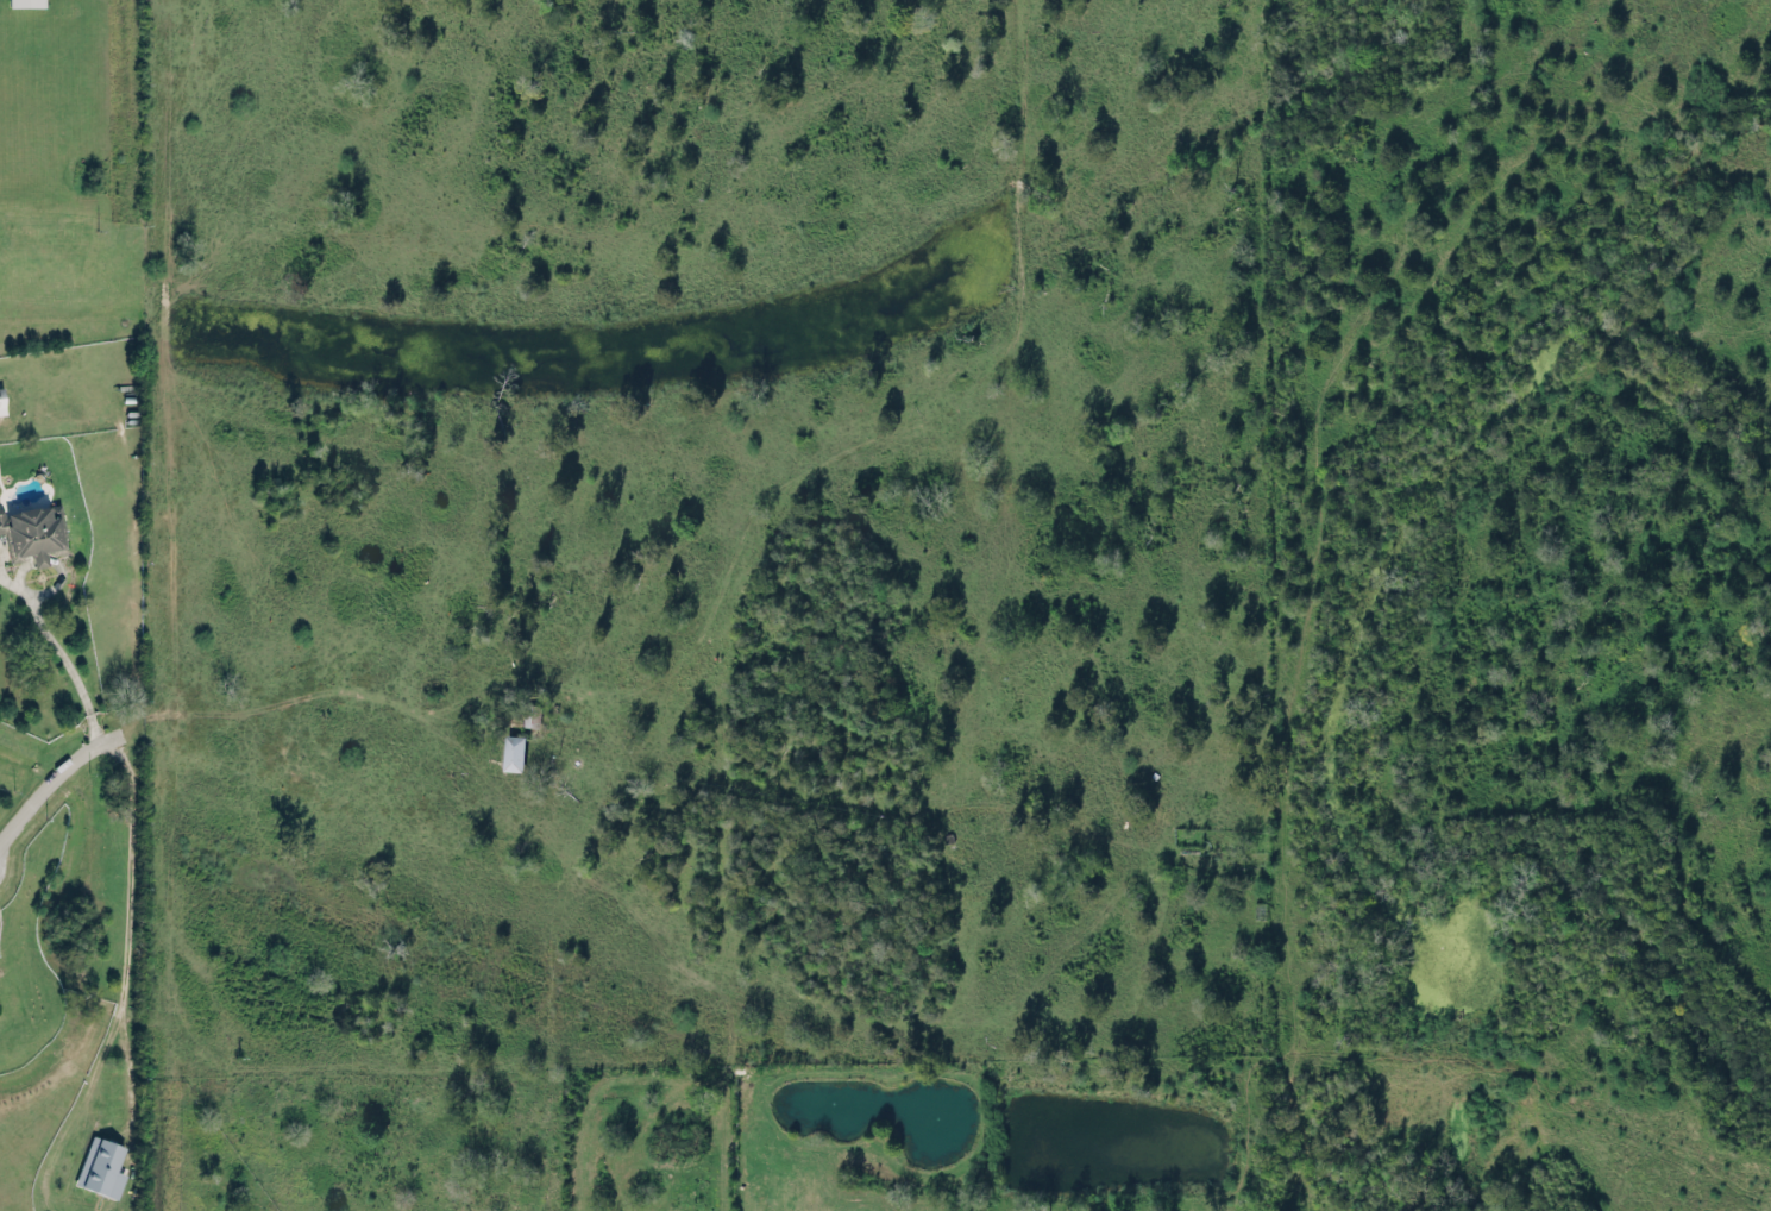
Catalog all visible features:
building: (26, 2)
road: (957, 372)
building: (1, 400)
building: (33, 531)
road: (65, 659)
building: (532, 710)
building: (513, 751)
road: (51, 776)
road: (126, 920)
building: (101, 1166)

